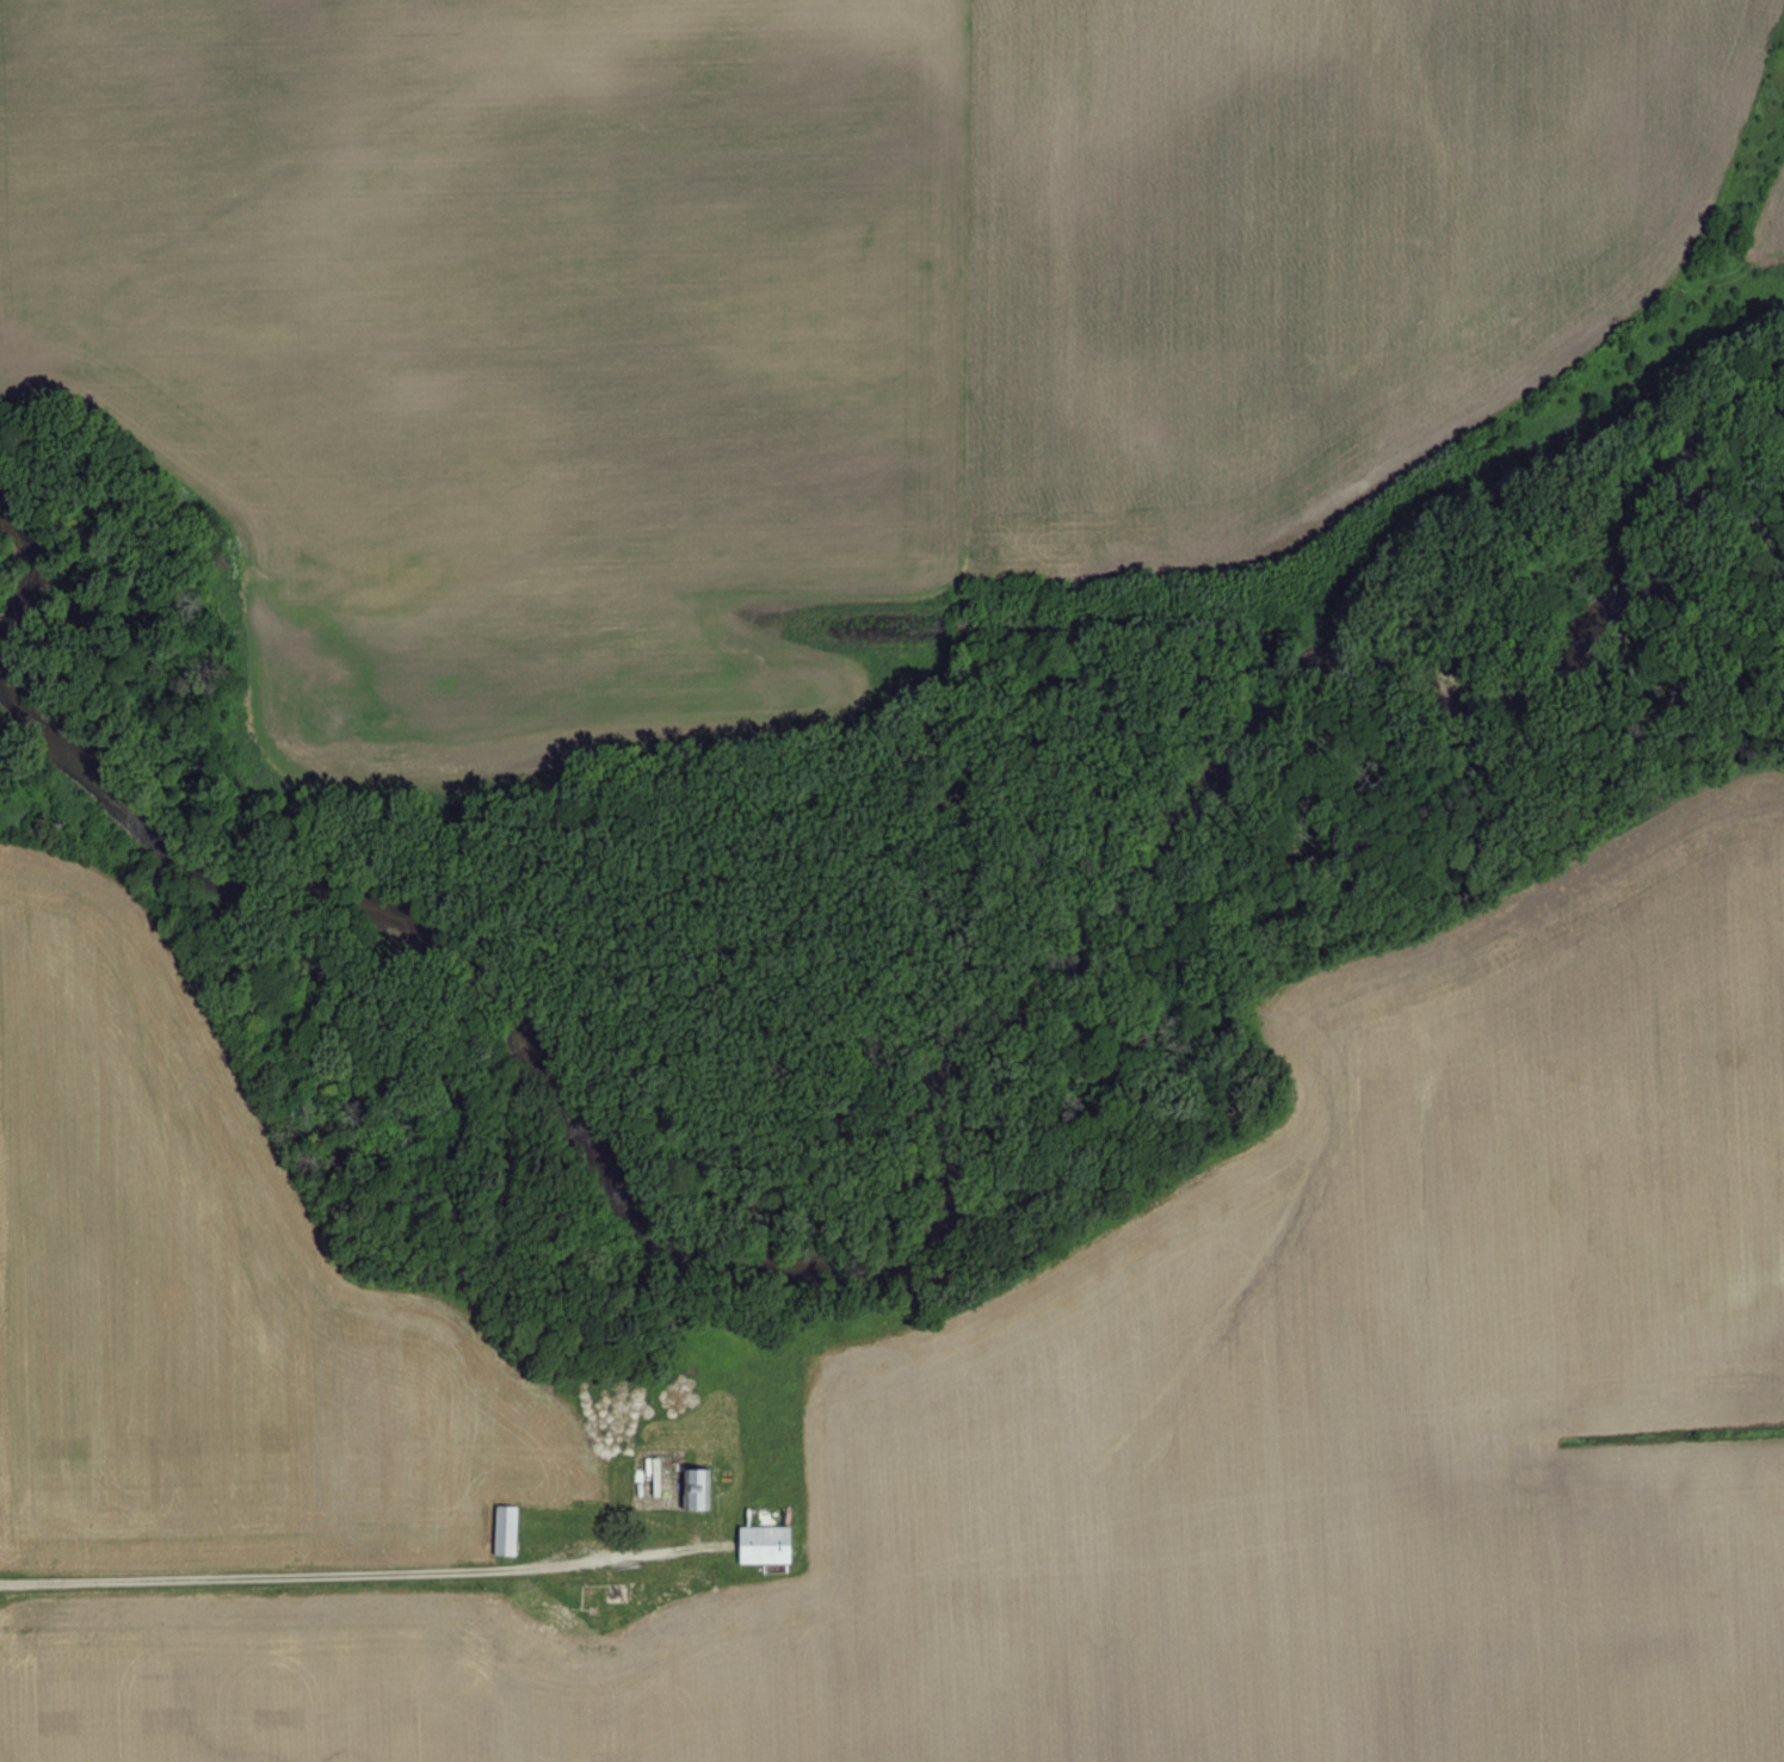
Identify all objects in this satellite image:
crop: (1770, 228)
crop: (798, 309)
crop: (210, 1297)
crop: (1217, 1432)
building: (508, 1534)
building: (768, 1548)
road: (363, 1574)

